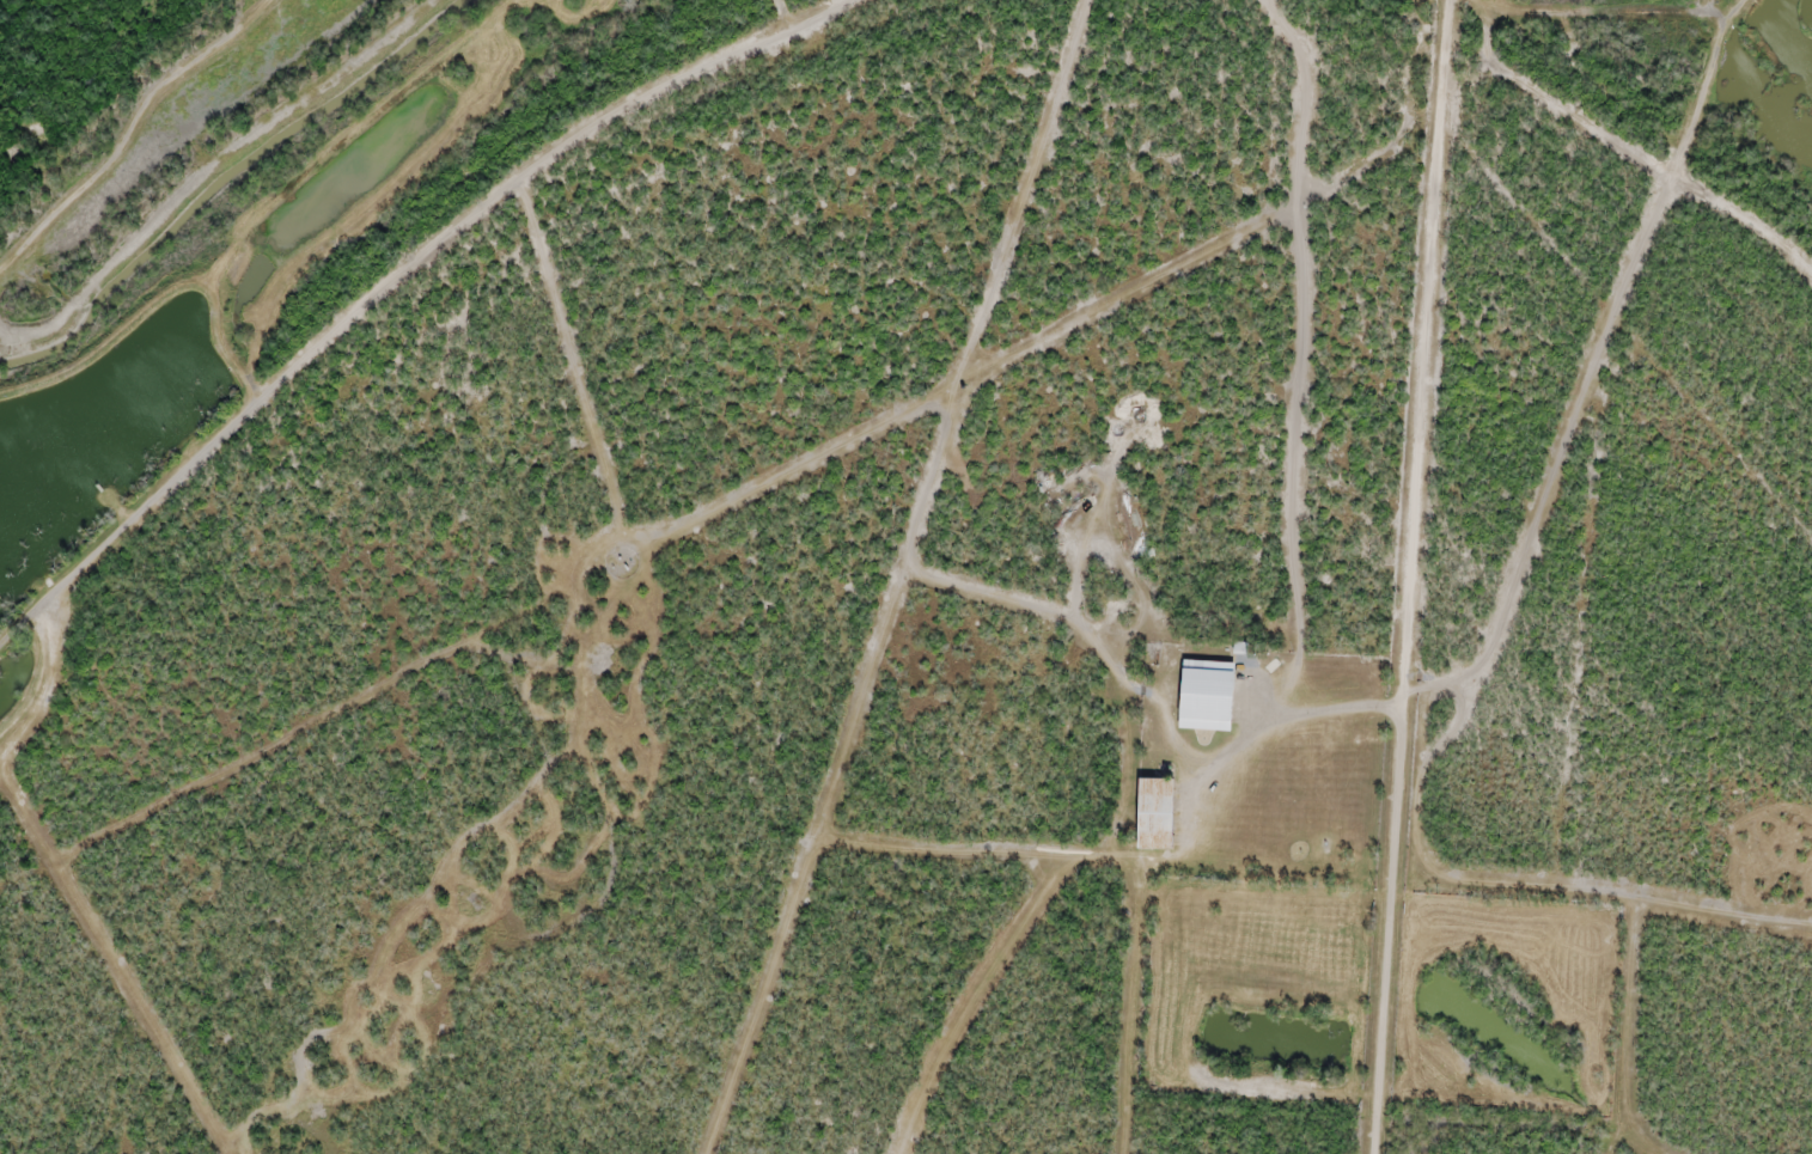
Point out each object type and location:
road: (1416, 576)
building: (1204, 694)
building: (1154, 812)

